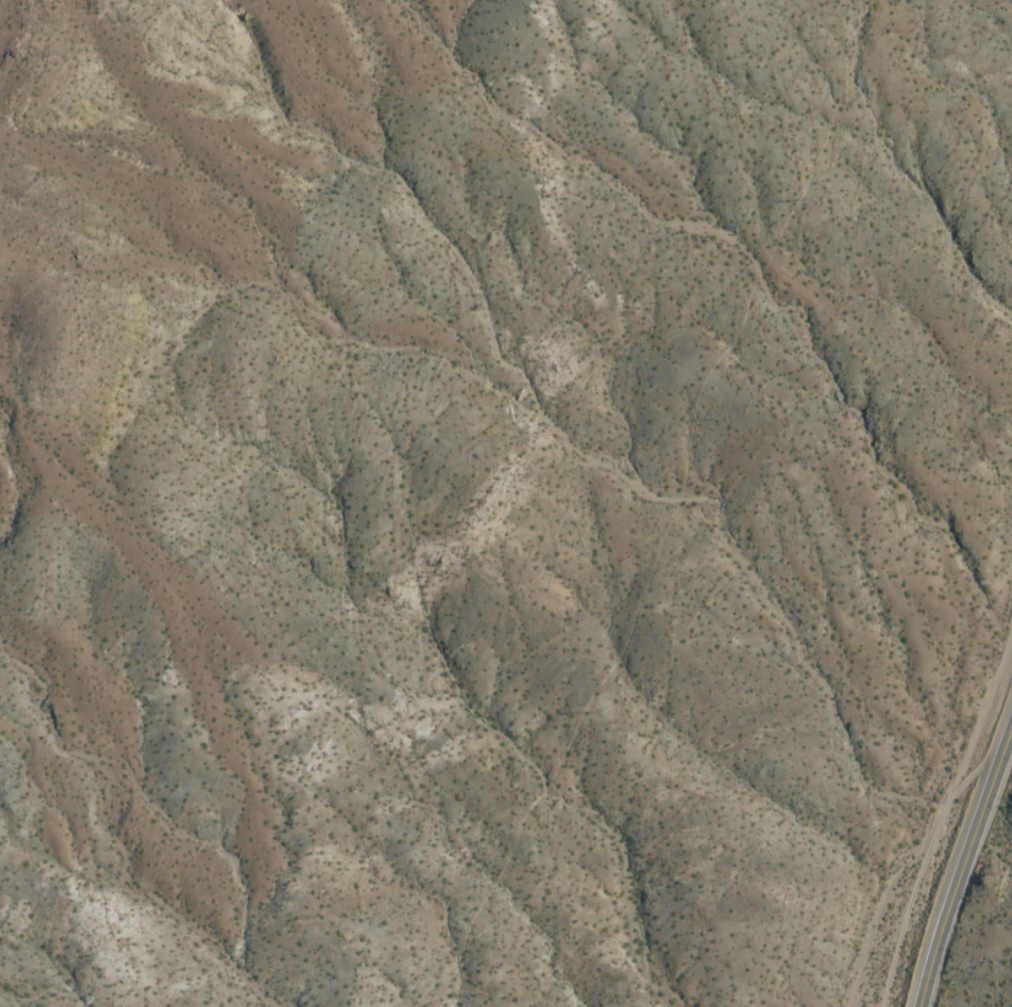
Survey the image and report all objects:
road: (963, 867)

